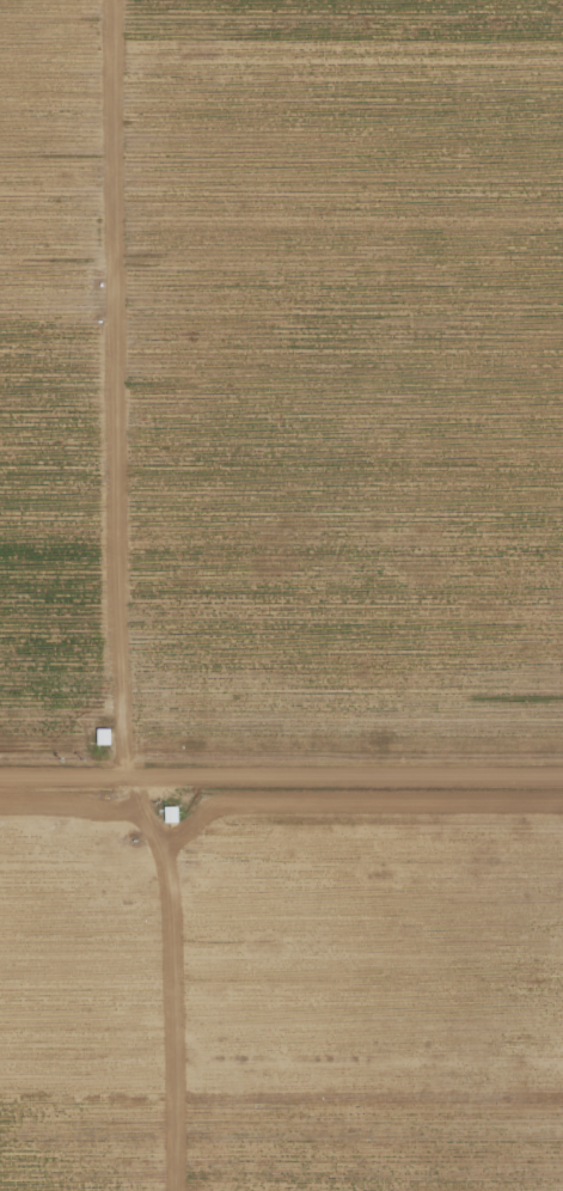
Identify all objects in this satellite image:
road: (104, 389)
building: (99, 735)
road: (49, 778)
road: (134, 781)
road: (367, 782)
building: (166, 814)
road: (170, 988)

